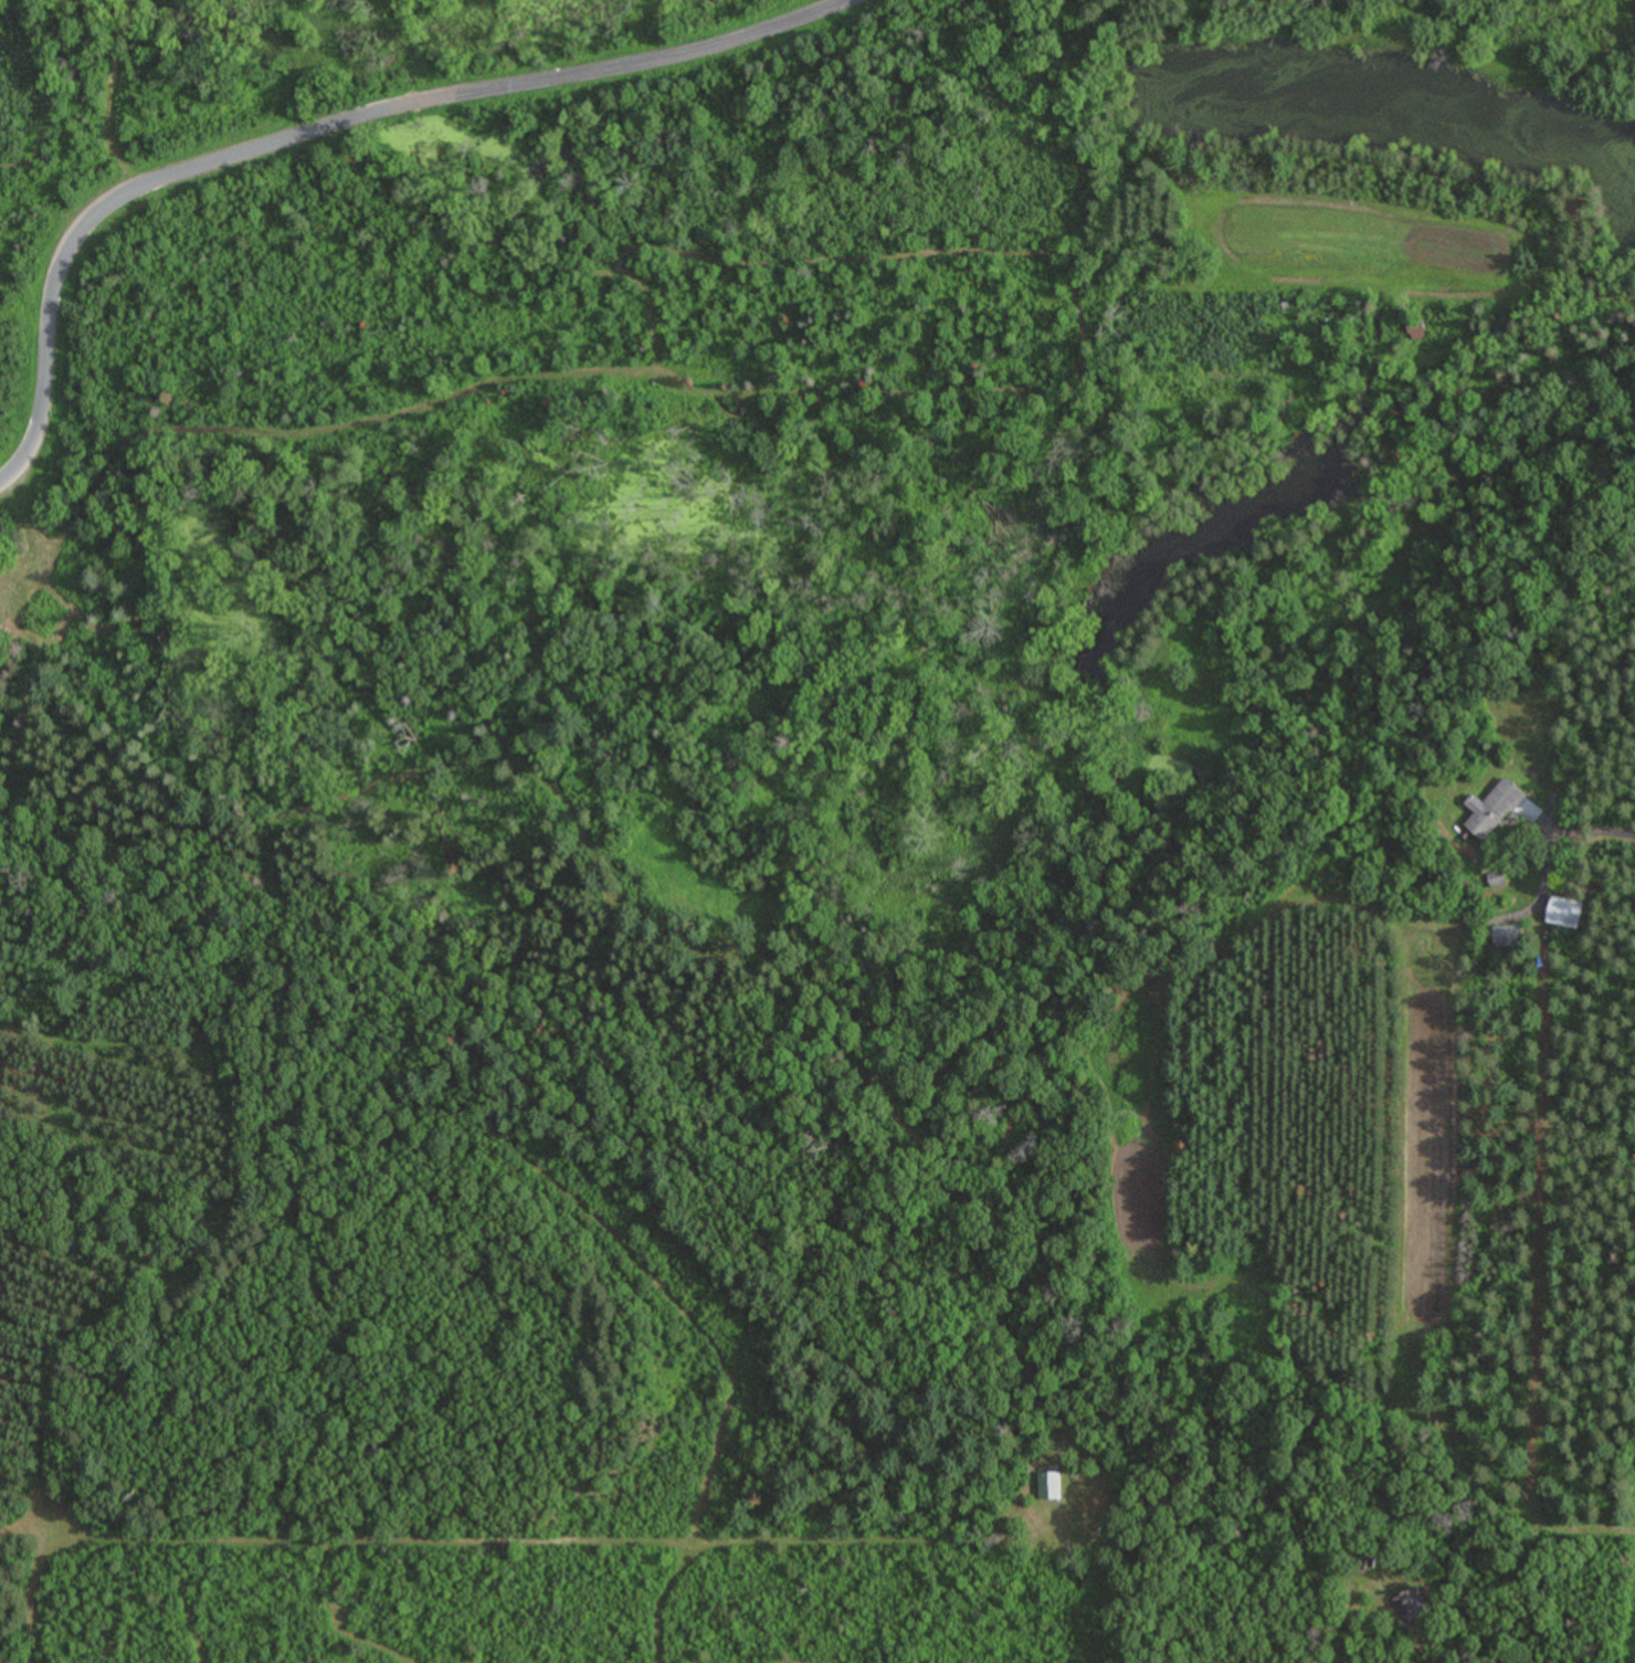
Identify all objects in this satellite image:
road: (334, 130)
building: (1501, 812)
building: (1564, 914)
building: (1508, 938)
building: (1051, 1488)
building: (1410, 1606)

